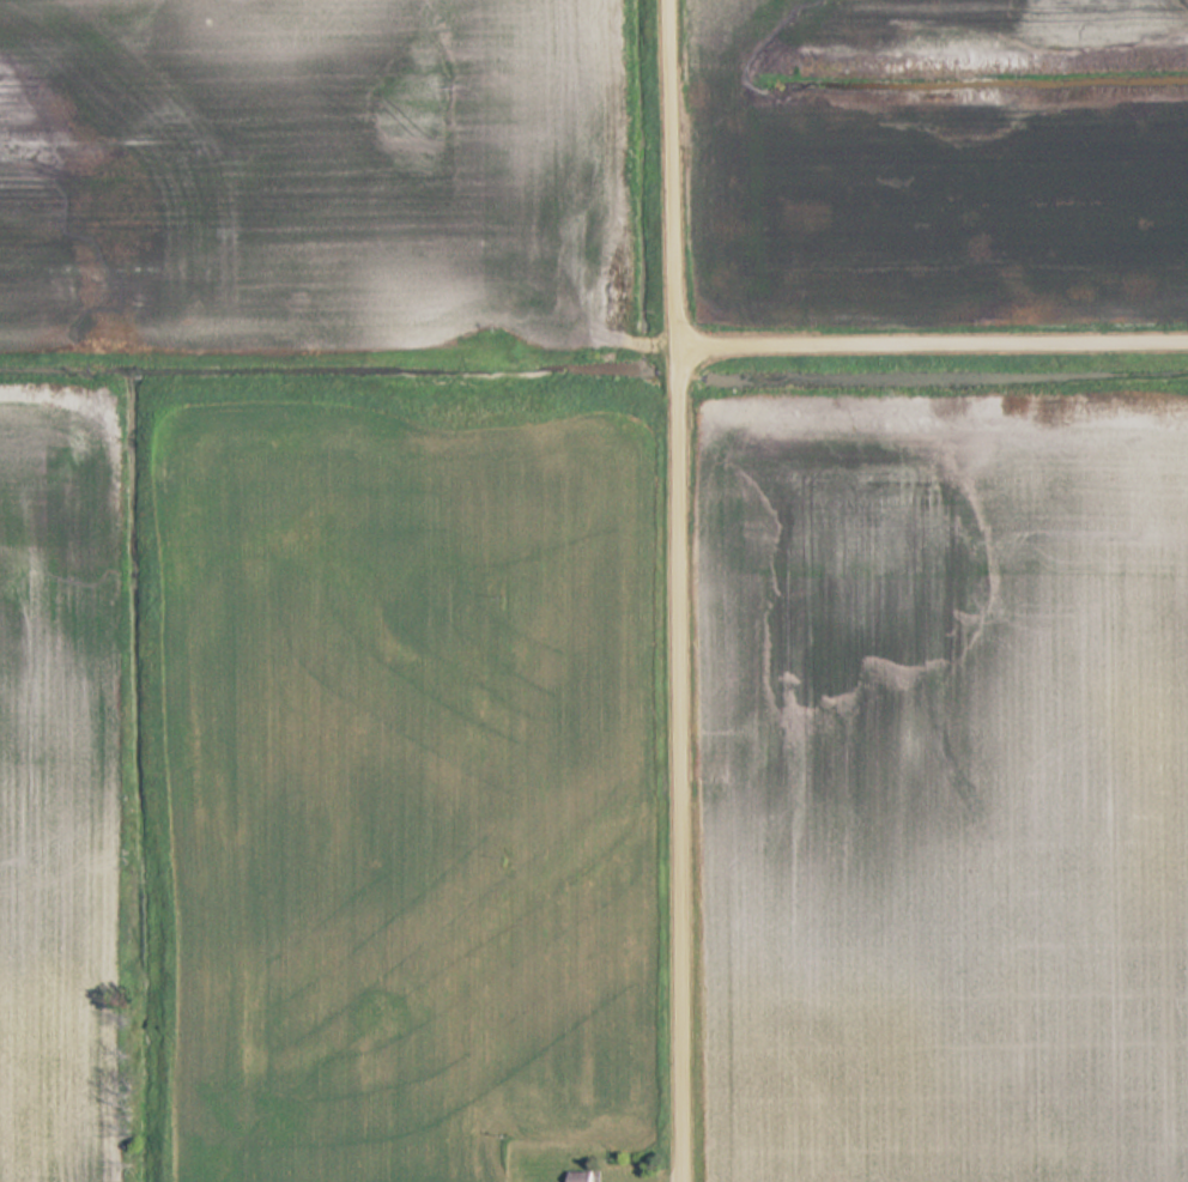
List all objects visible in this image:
road: (932, 347)
road: (679, 590)
building: (584, 1176)

